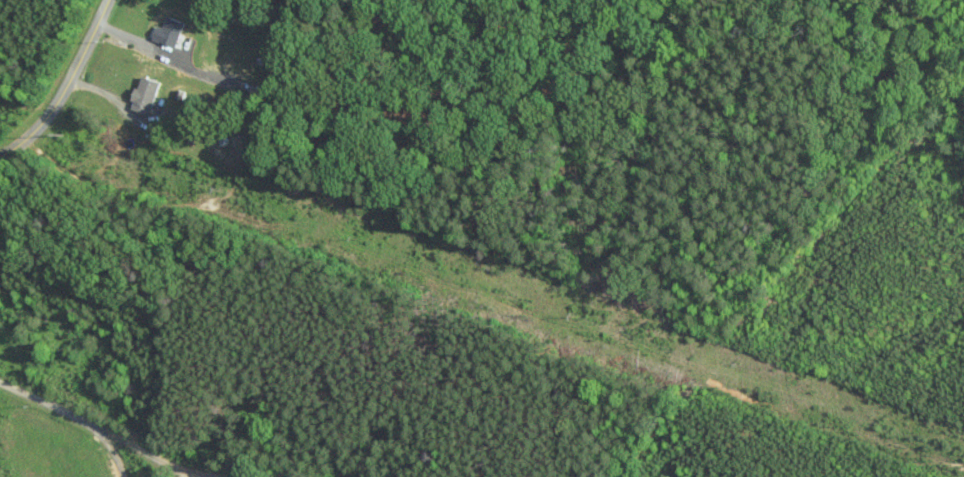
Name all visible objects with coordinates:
road: (63, 86)
power tower: (352, 237)
road: (147, 442)
road: (114, 443)

